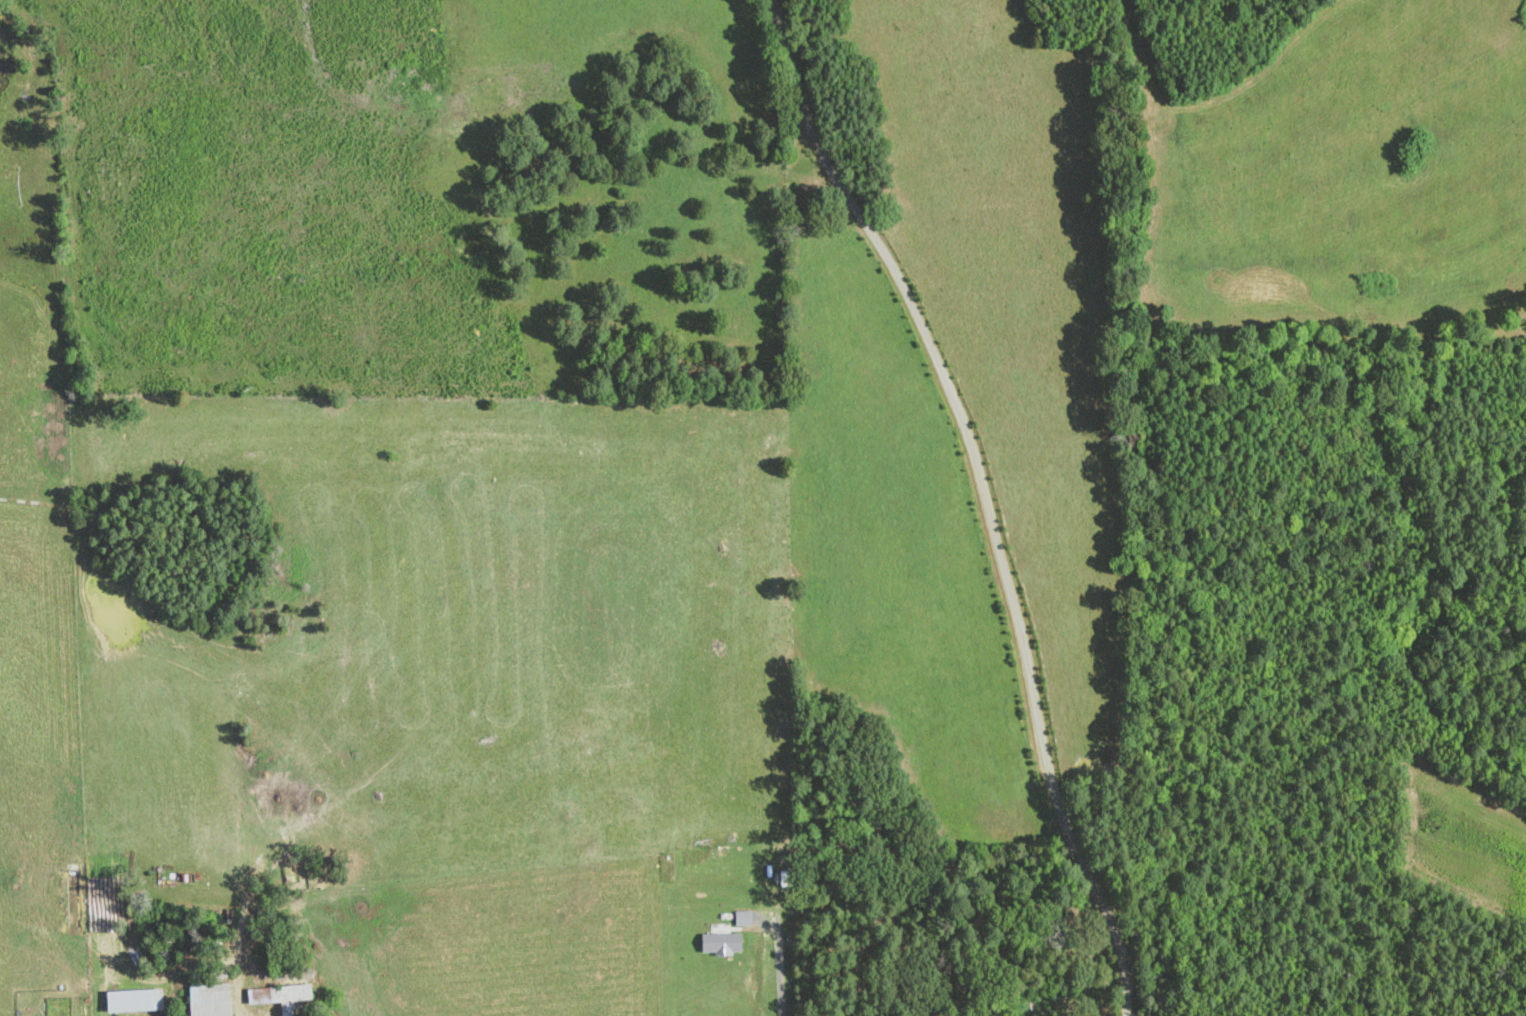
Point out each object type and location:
road: (985, 496)
road: (238, 965)
road: (779, 973)
building: (286, 998)
building: (211, 999)
building: (136, 1000)
road: (103, 1014)

